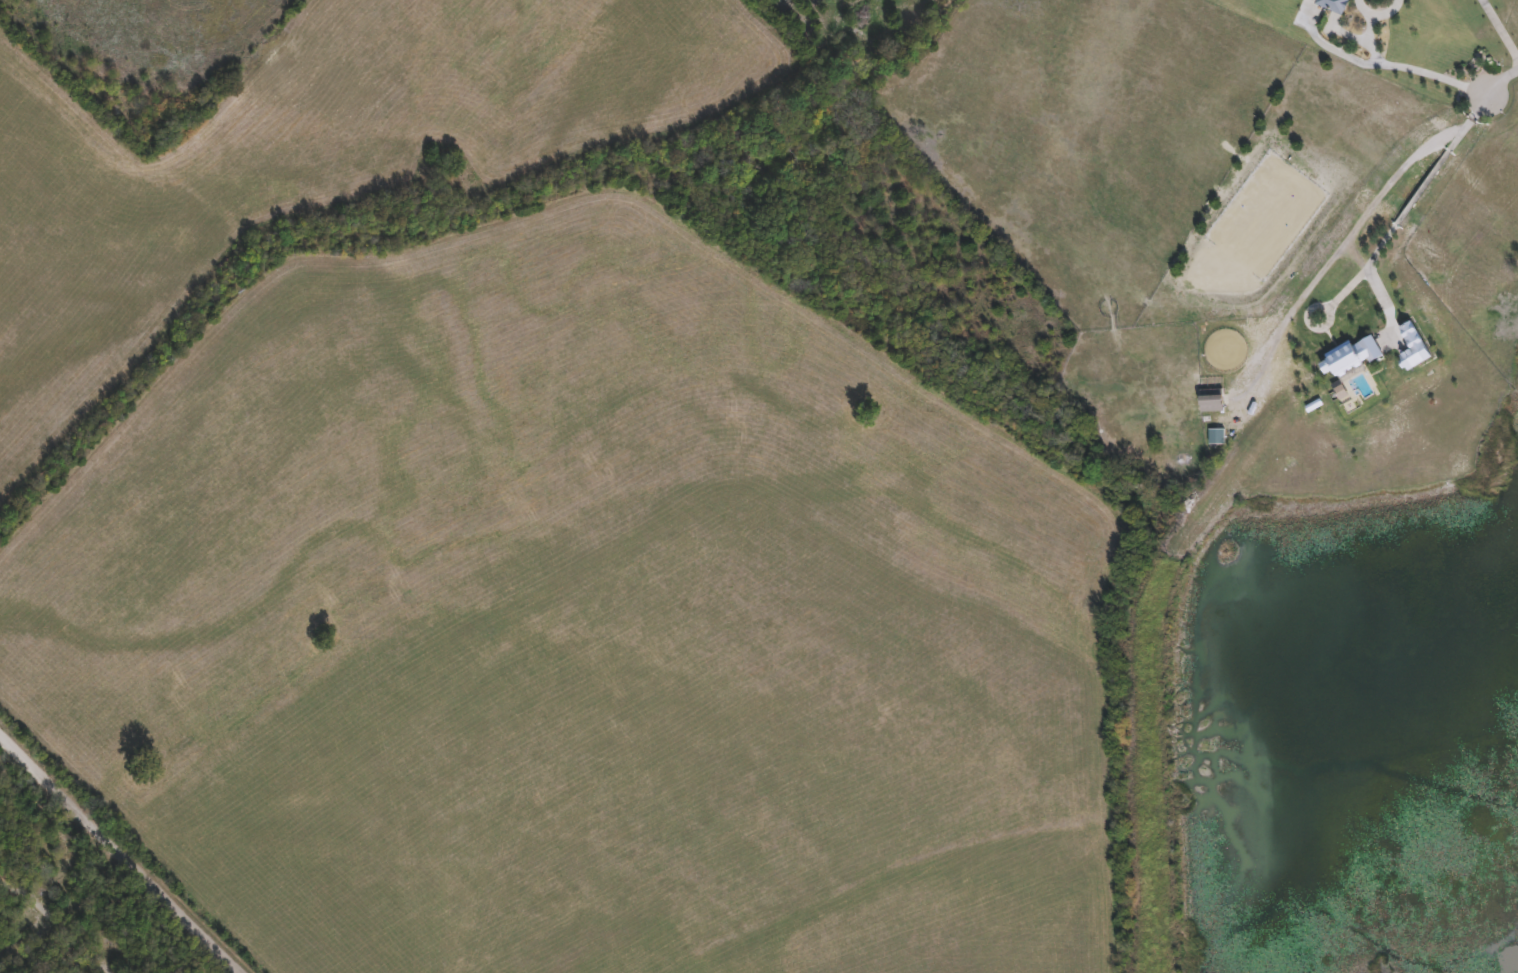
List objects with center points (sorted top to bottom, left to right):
road: (1500, 29)
road: (1392, 64)
road: (1501, 82)
road: (1406, 210)
road: (1345, 243)
building: (1351, 358)
building: (1211, 401)
building: (1217, 438)
road: (116, 857)

